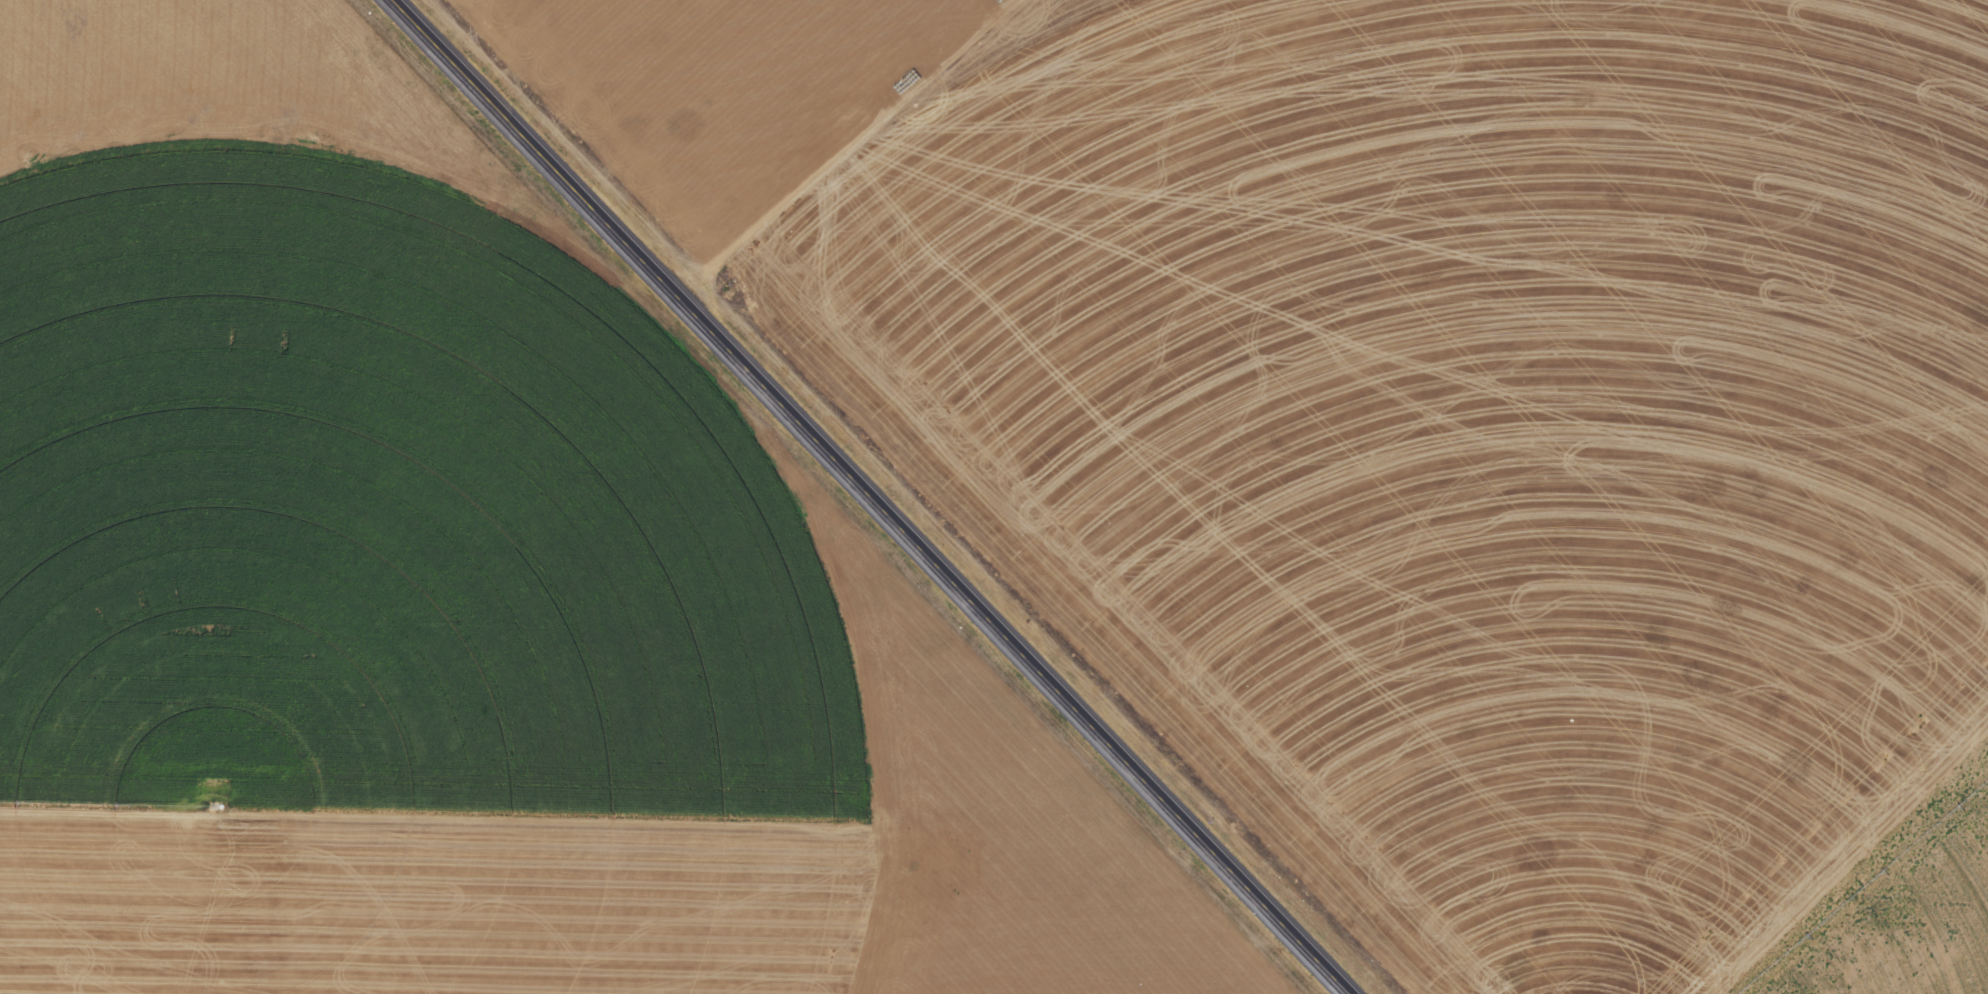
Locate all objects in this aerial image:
road: (872, 496)

